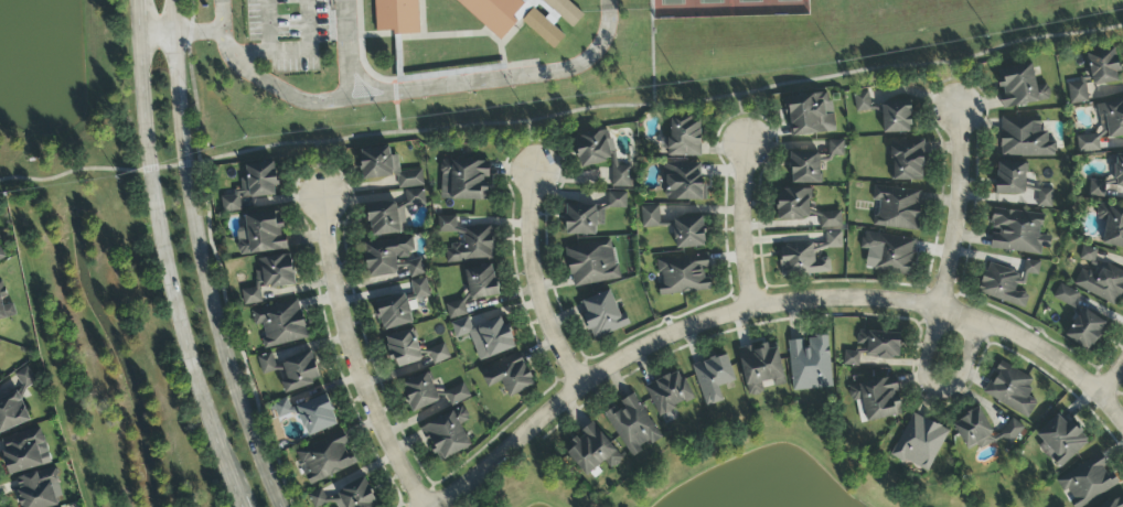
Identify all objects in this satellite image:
park: (727, 9)
building: (496, 13)
building: (397, 18)
road: (268, 26)
road: (195, 32)
road: (154, 33)
road: (295, 52)
road: (653, 53)
building: (1103, 67)
road: (525, 77)
road: (367, 82)
road: (955, 86)
building: (1020, 87)
building: (1078, 93)
road: (368, 99)
road: (300, 101)
building: (862, 103)
road: (397, 114)
road: (561, 114)
building: (810, 114)
building: (896, 117)
road: (741, 119)
building: (1103, 127)
building: (684, 137)
building: (1024, 139)
road: (530, 147)
building: (835, 149)
building: (601, 154)
building: (907, 160)
building: (387, 168)
building: (805, 168)
road: (318, 170)
building: (1119, 170)
building: (1010, 179)
building: (463, 181)
building: (683, 183)
building: (252, 186)
building: (1098, 187)
building: (1044, 198)
building: (617, 201)
building: (793, 205)
building: (897, 207)
road: (956, 209)
building: (392, 214)
building: (650, 217)
building: (582, 219)
building: (830, 220)
building: (1111, 225)
road: (741, 226)
building: (688, 233)
building: (1017, 233)
building: (260, 234)
building: (833, 240)
building: (467, 241)
building: (888, 253)
building: (1087, 255)
building: (1, 256)
building: (385, 256)
road: (164, 258)
road: (200, 258)
building: (801, 261)
building: (591, 263)
building: (415, 269)
building: (682, 276)
building: (269, 278)
building: (481, 282)
building: (1006, 282)
road: (533, 283)
building: (1101, 283)
building: (419, 289)
building: (1065, 295)
building: (4, 303)
road: (764, 306)
building: (456, 310)
building: (394, 313)
building: (602, 315)
building: (280, 324)
building: (1085, 330)
building: (485, 336)
building: (880, 344)
building: (404, 348)
building: (438, 354)
road: (355, 358)
building: (851, 359)
building: (266, 364)
building: (810, 364)
building: (759, 367)
building: (300, 371)
building: (509, 376)
building: (25, 378)
building: (713, 378)
road: (1113, 385)
building: (1010, 390)
road: (938, 391)
building: (419, 392)
building: (457, 395)
building: (669, 395)
building: (12, 412)
building: (310, 414)
building: (632, 425)
building: (973, 430)
building: (1010, 432)
building: (447, 434)
building: (1062, 440)
building: (919, 443)
building: (591, 451)
building: (25, 452)
building: (324, 459)
building: (1088, 482)
building: (39, 489)
building: (345, 497)
building: (1114, 503)

